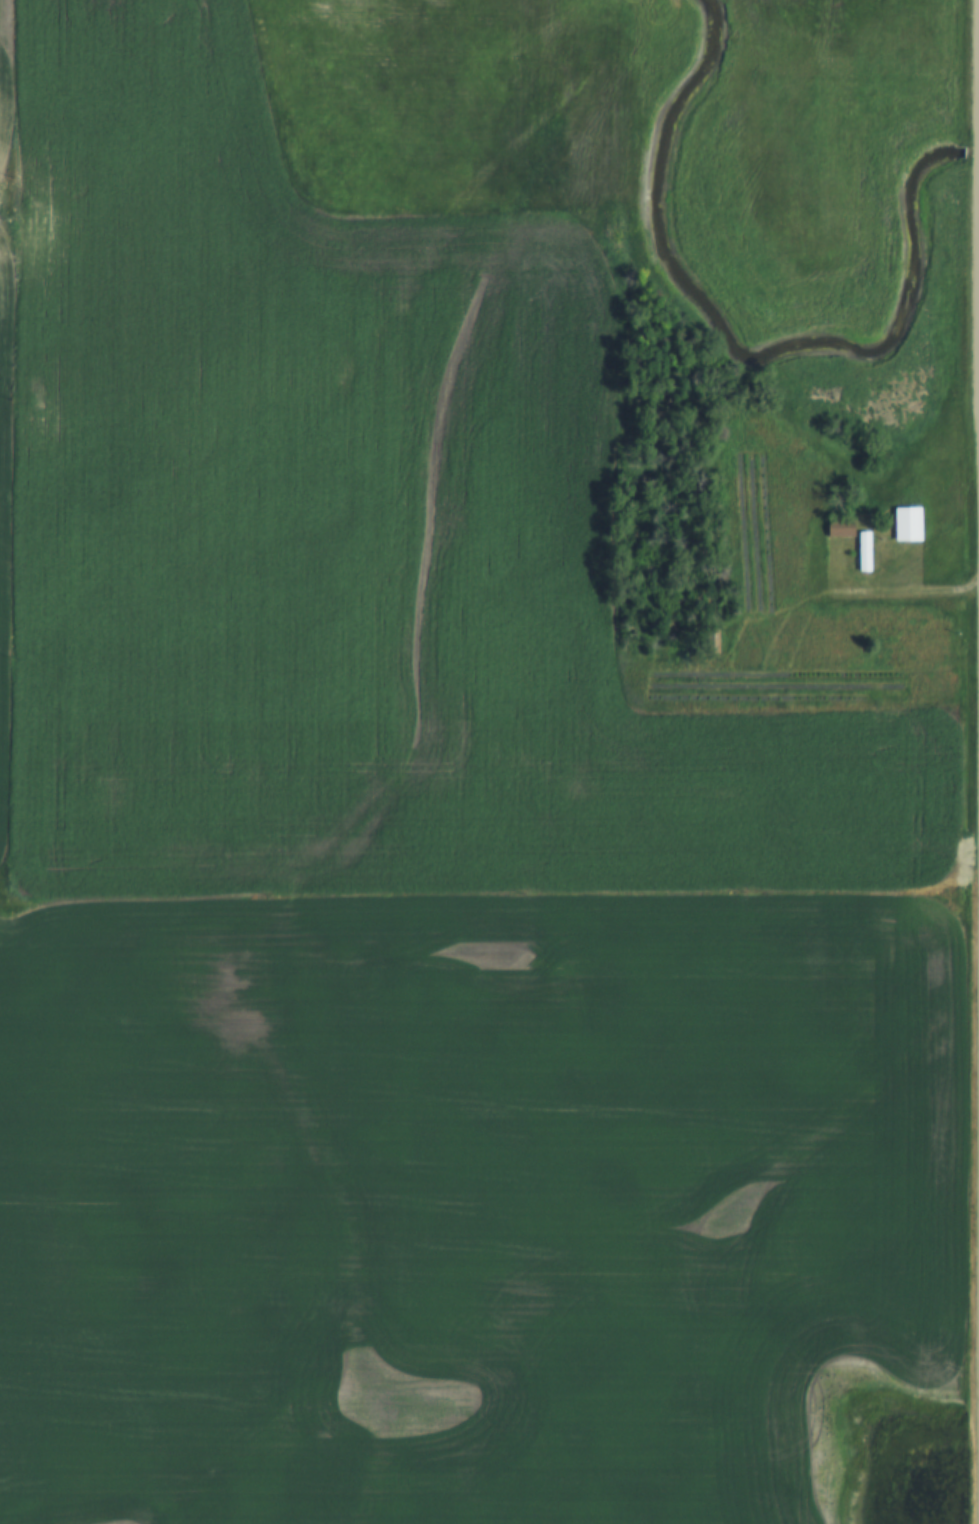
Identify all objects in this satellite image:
building: (751, 490)
building: (909, 525)
building: (839, 528)
building: (864, 552)
road: (889, 592)
building: (713, 642)

